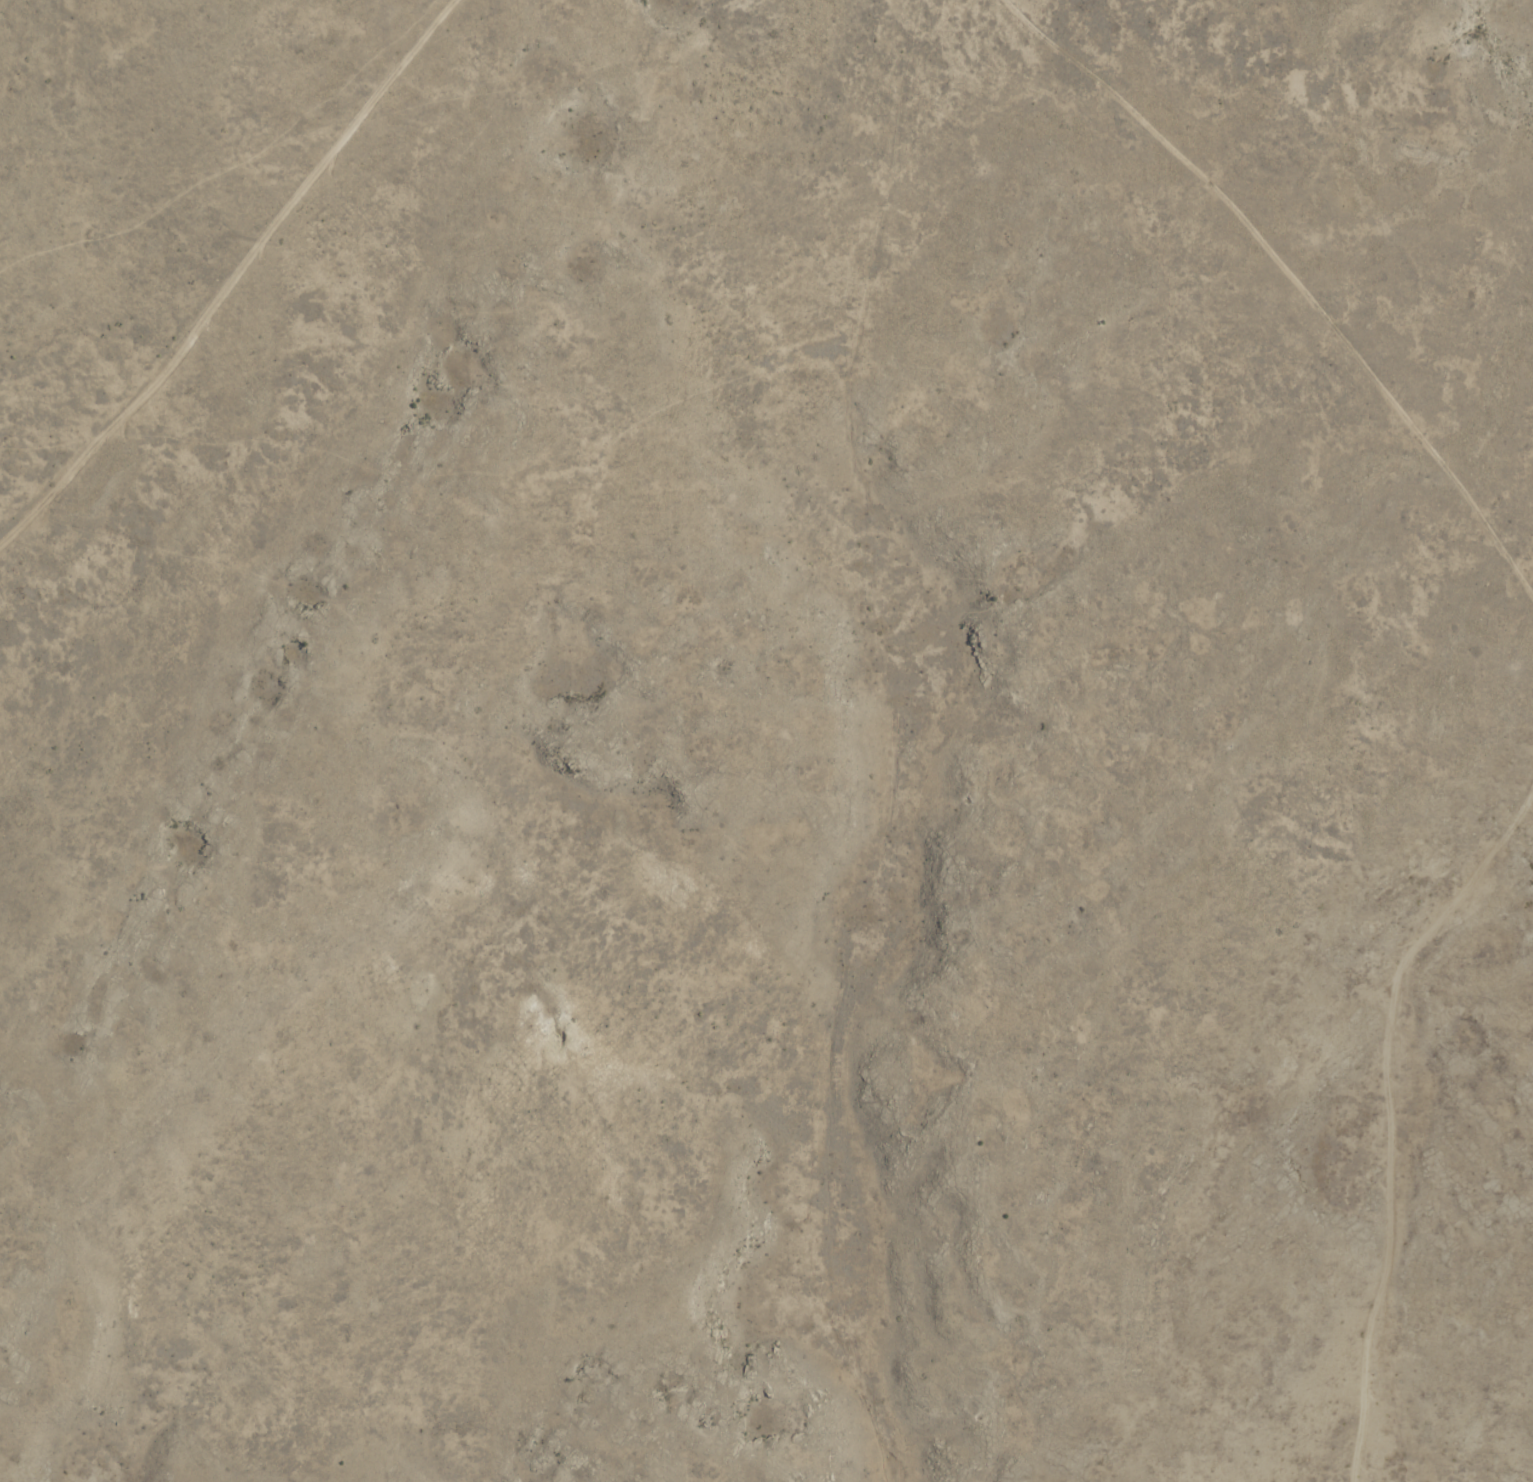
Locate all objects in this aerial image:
road: (234, 278)

